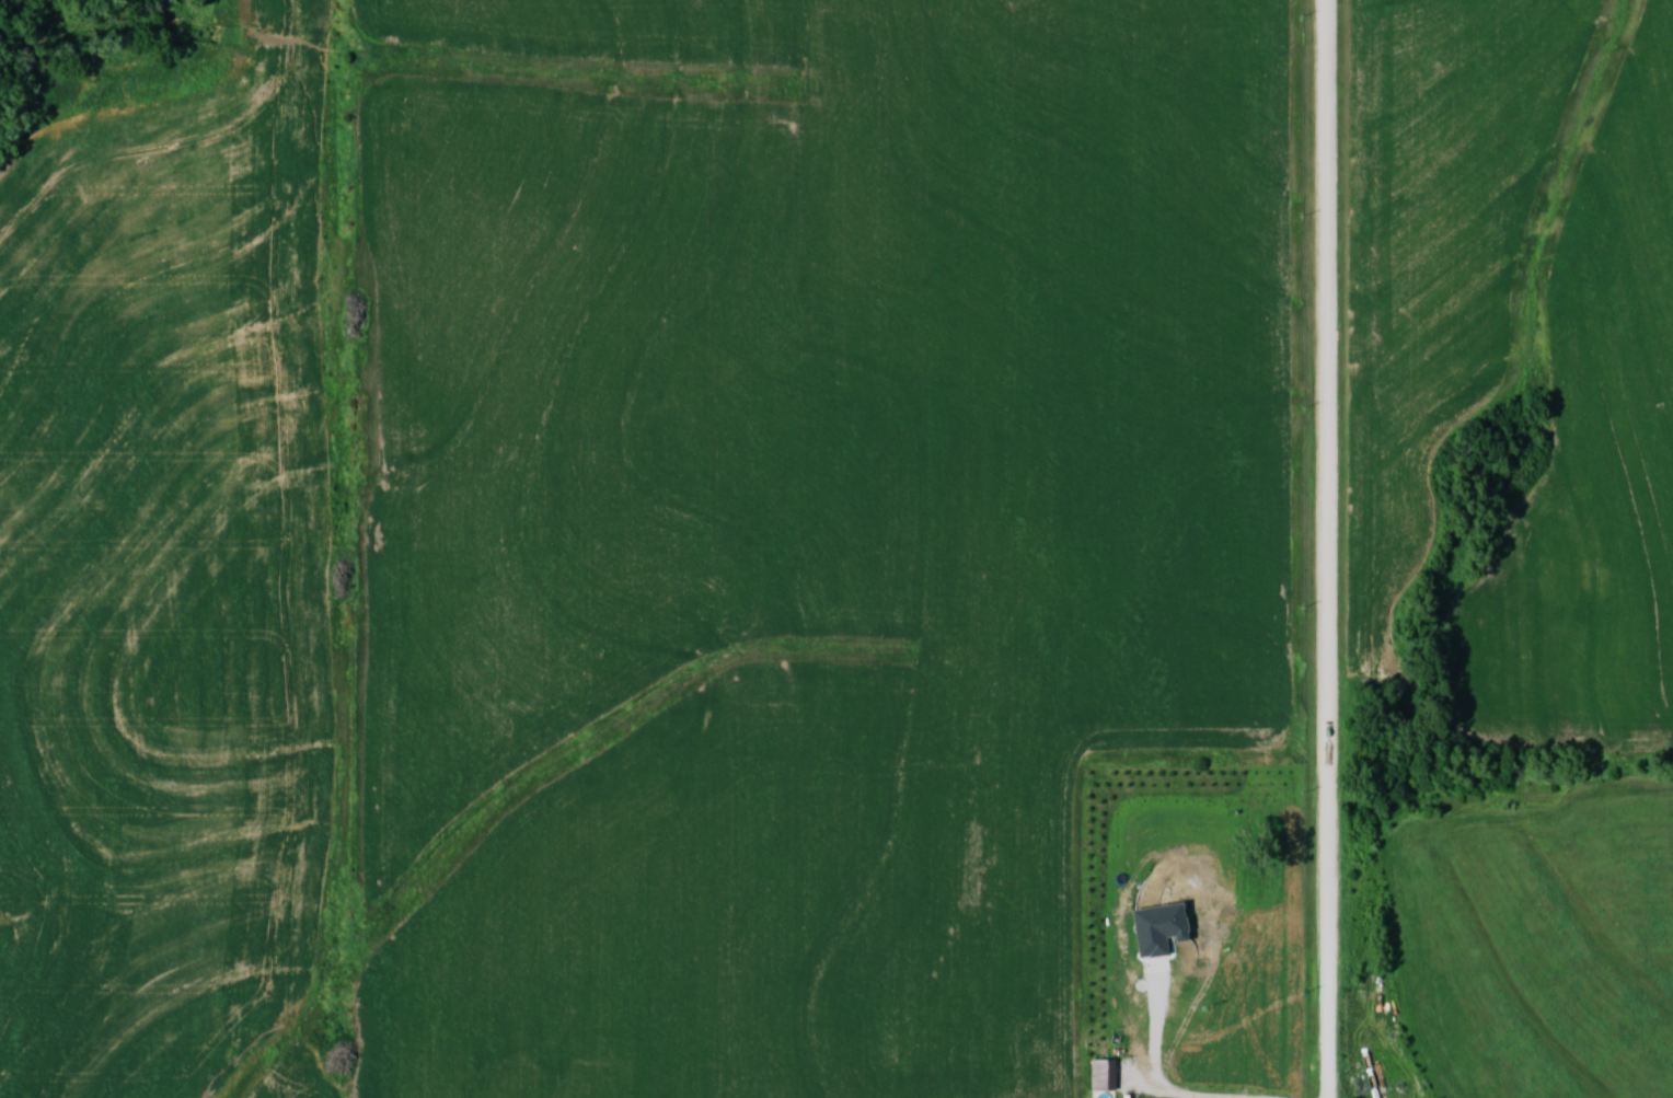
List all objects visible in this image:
road: (1330, 548)

